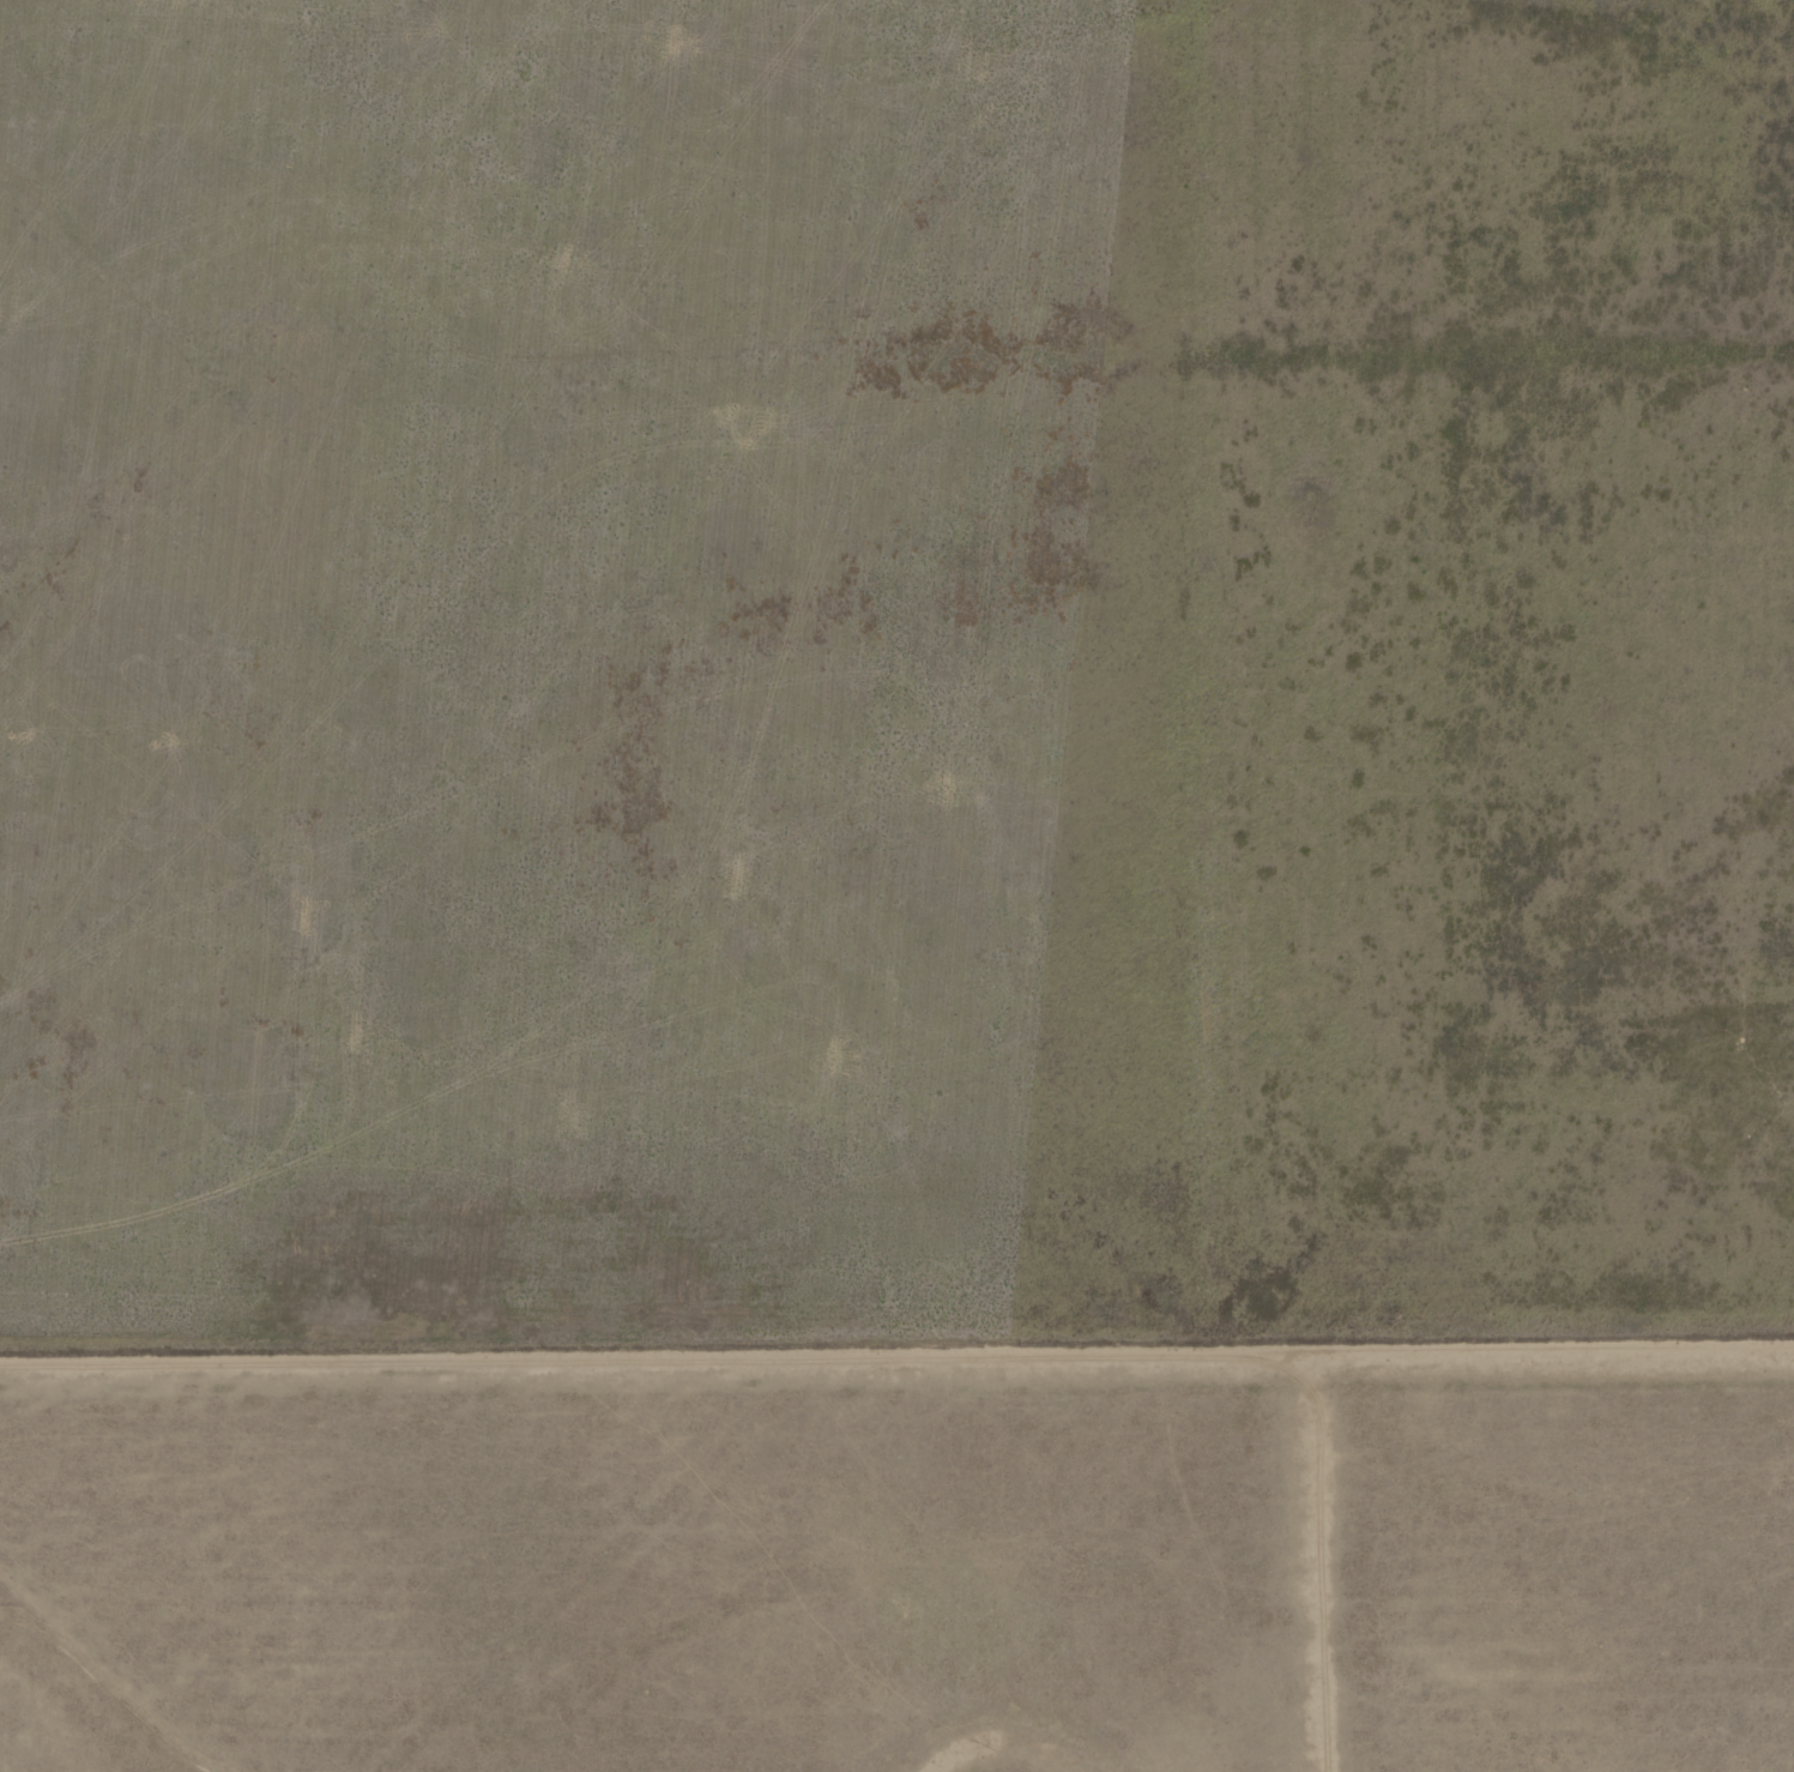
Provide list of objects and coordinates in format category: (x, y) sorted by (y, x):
road: (836, 1384)

